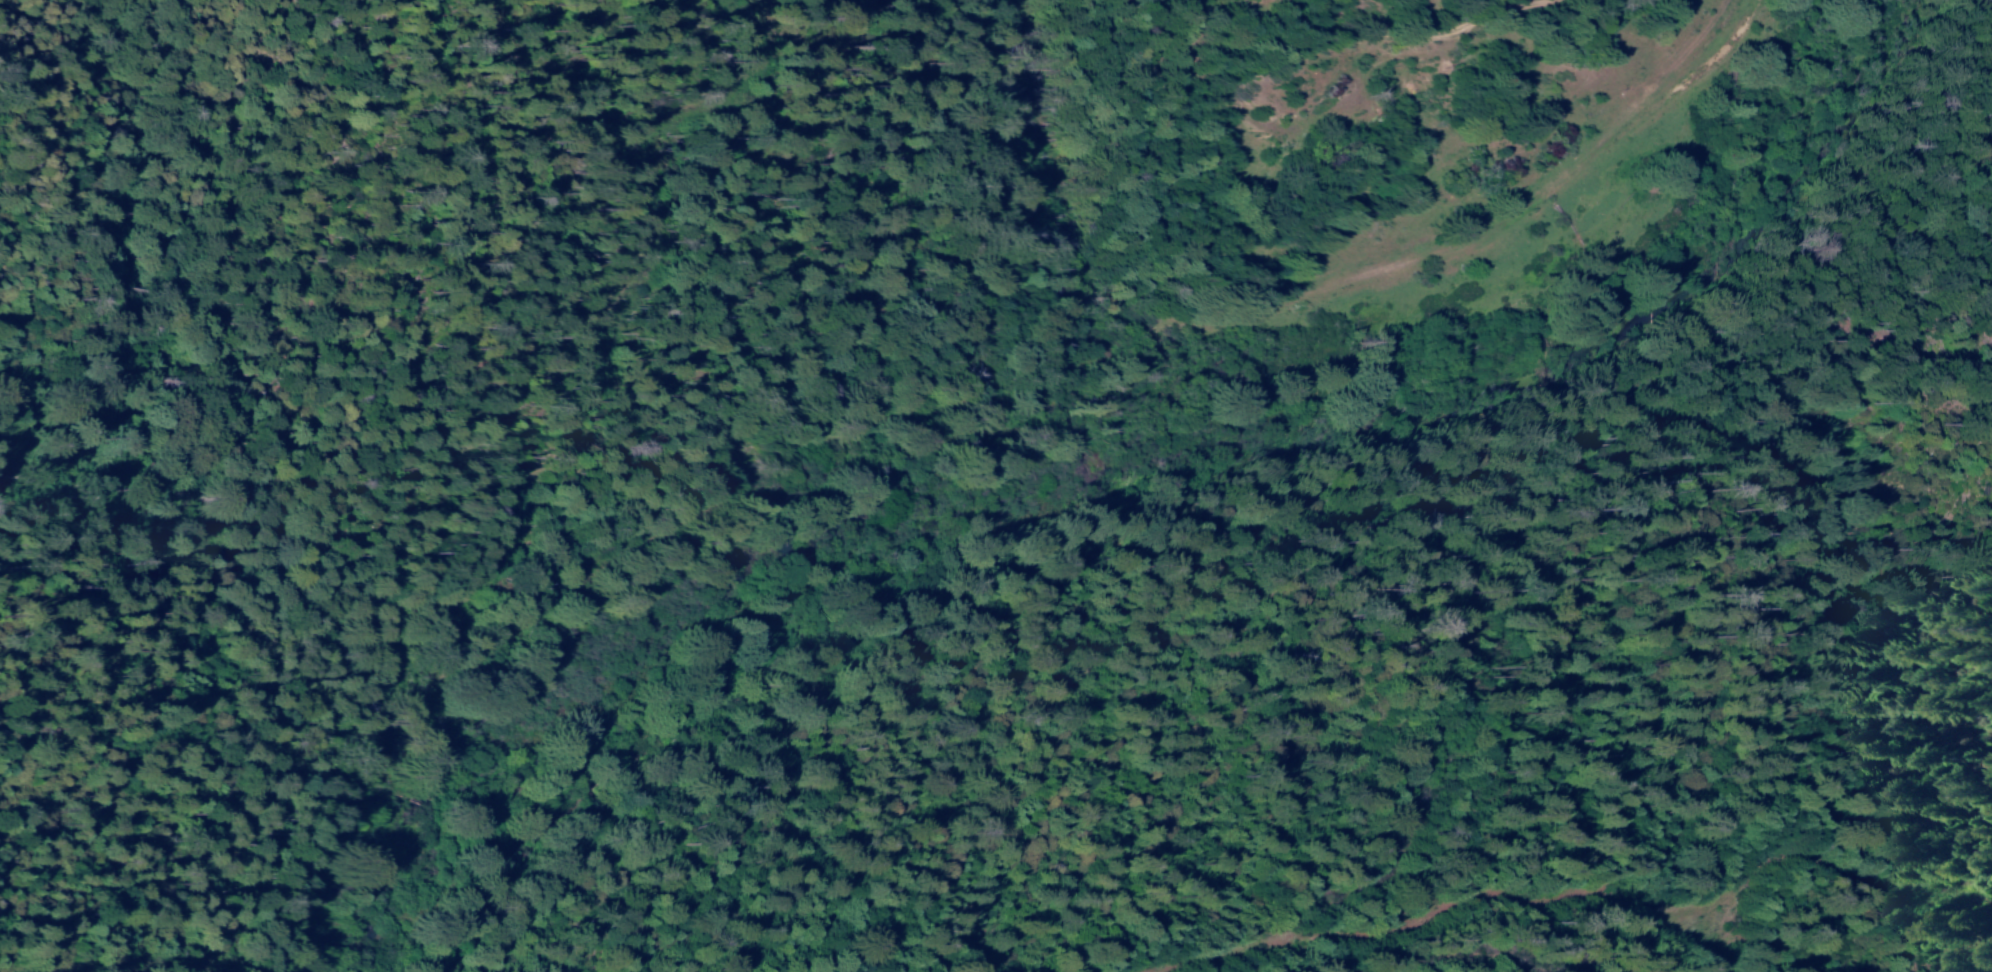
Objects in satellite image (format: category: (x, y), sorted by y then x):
road: (1334, 45)
road: (961, 409)
river: (1163, 501)

